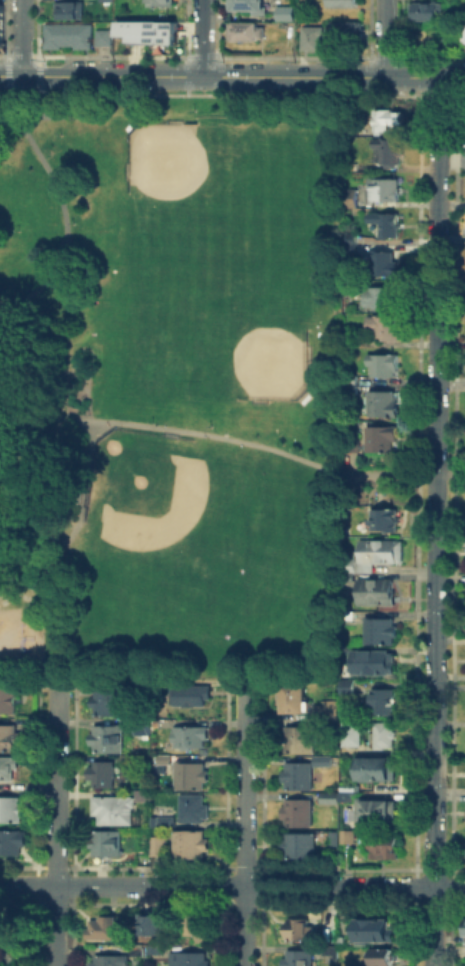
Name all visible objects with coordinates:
building: (103, 0)
building: (159, 2)
building: (244, 4)
building: (341, 4)
building: (67, 10)
building: (424, 11)
building: (283, 13)
building: (0, 27)
building: (146, 28)
building: (344, 29)
building: (244, 31)
building: (309, 33)
building: (65, 34)
building: (101, 35)
road: (19, 37)
road: (203, 37)
road: (384, 37)
building: (464, 39)
road: (101, 75)
road: (319, 75)
road: (450, 77)
road: (8, 117)
building: (382, 122)
building: (386, 150)
park: (163, 157)
building: (351, 164)
building: (380, 187)
building: (350, 196)
road: (62, 205)
building: (383, 222)
building: (347, 236)
building: (347, 247)
building: (381, 261)
building: (380, 294)
building: (381, 324)
park: (271, 361)
building: (381, 362)
building: (348, 378)
park: (169, 387)
building: (348, 387)
building: (380, 402)
road: (173, 428)
fountain: (226, 434)
building: (377, 436)
building: (349, 443)
road: (403, 473)
park: (377, 479)
park: (460, 479)
road: (435, 482)
park: (151, 498)
building: (386, 521)
road: (31, 524)
road: (29, 549)
road: (58, 552)
building: (384, 552)
building: (351, 565)
building: (378, 594)
building: (382, 633)
building: (375, 664)
building: (350, 688)
building: (136, 690)
building: (191, 696)
building: (297, 699)
building: (9, 700)
building: (109, 703)
building: (385, 705)
building: (329, 710)
building: (144, 730)
building: (350, 732)
building: (376, 736)
building: (190, 738)
building: (9, 740)
building: (109, 741)
building: (301, 742)
building: (138, 760)
building: (166, 762)
building: (9, 770)
building: (378, 771)
building: (304, 774)
building: (102, 775)
building: (192, 777)
building: (351, 798)
building: (330, 799)
building: (119, 810)
building: (12, 811)
building: (195, 811)
building: (377, 813)
building: (299, 815)
building: (163, 824)
road: (244, 824)
road: (53, 828)
building: (350, 837)
building: (332, 840)
building: (106, 844)
building: (13, 845)
building: (159, 847)
building: (191, 847)
building: (300, 847)
building: (385, 848)
road: (217, 885)
road: (449, 887)
building: (464, 924)
building: (153, 926)
building: (202, 926)
road: (433, 926)
building: (106, 929)
building: (300, 931)
building: (377, 933)
building: (333, 953)
building: (384, 958)
building: (196, 959)
building: (300, 960)
building: (112, 962)

